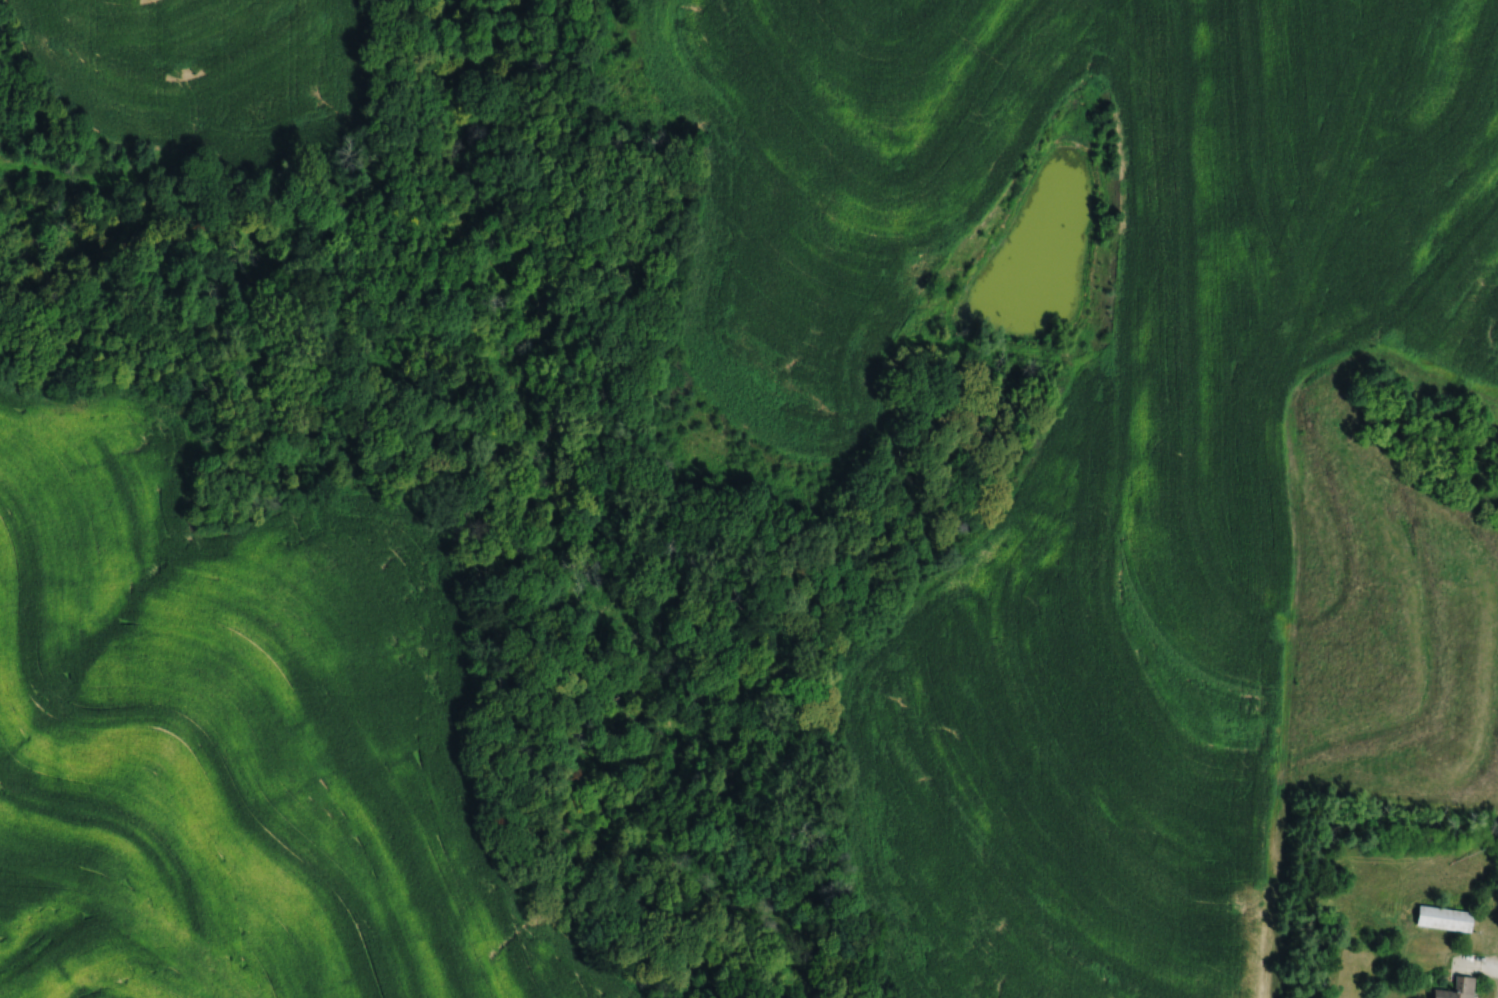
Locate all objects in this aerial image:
building: (1443, 919)
building: (1456, 989)

